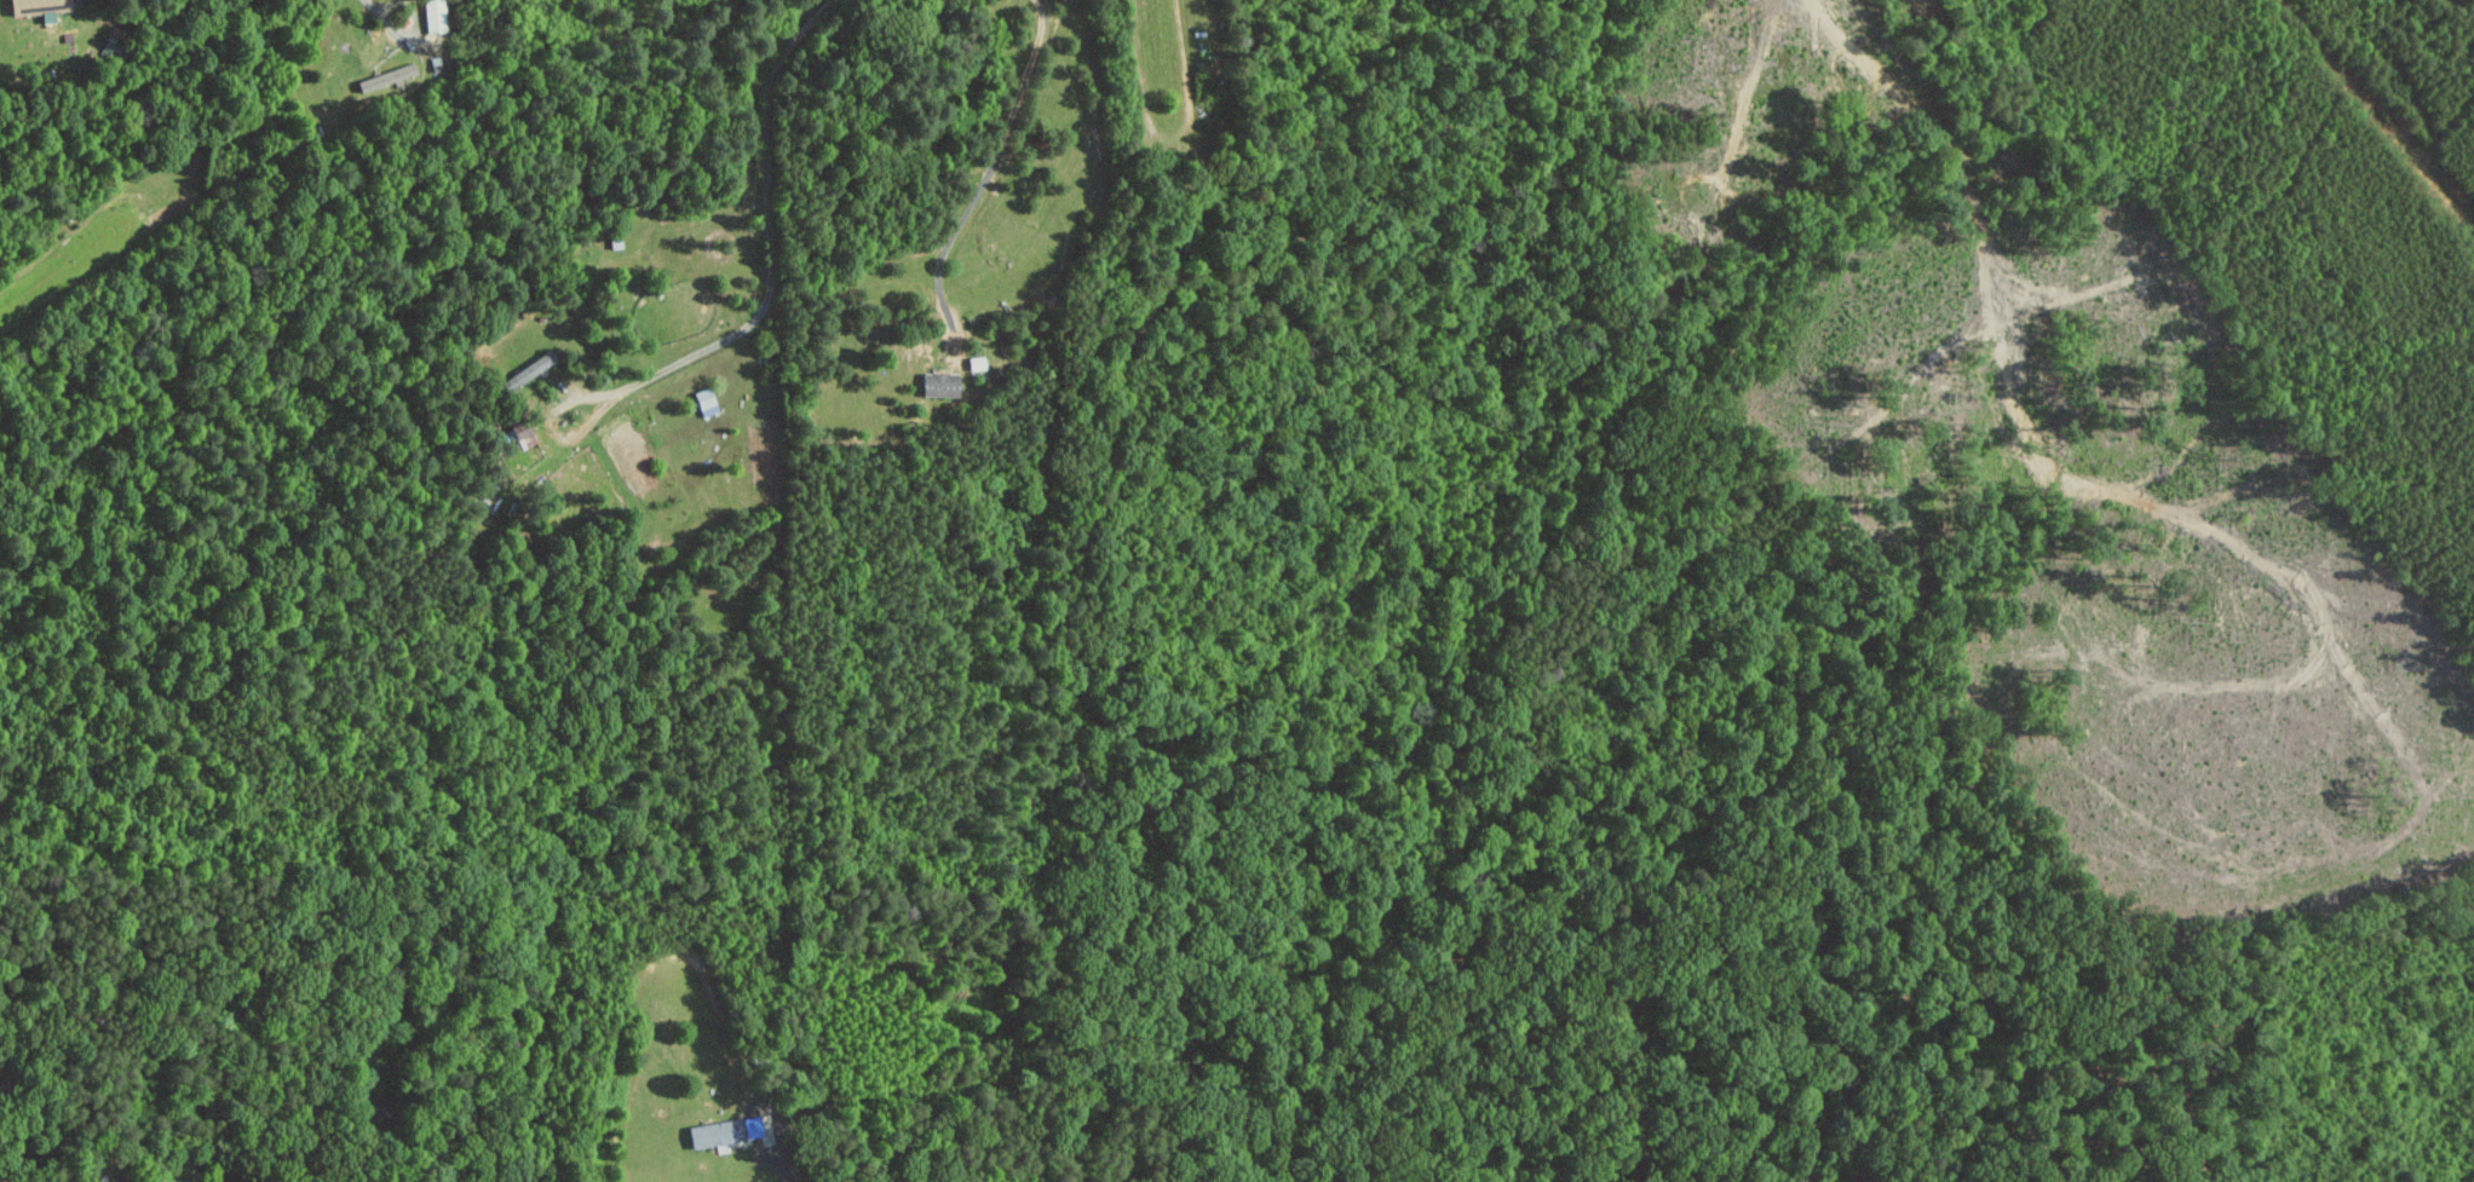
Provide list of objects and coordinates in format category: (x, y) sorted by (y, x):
building: (35, 5)
road: (381, 15)
road: (991, 166)
road: (771, 255)
building: (527, 370)
building: (937, 384)
building: (703, 400)
building: (519, 437)
building: (712, 1132)
road: (775, 1155)

